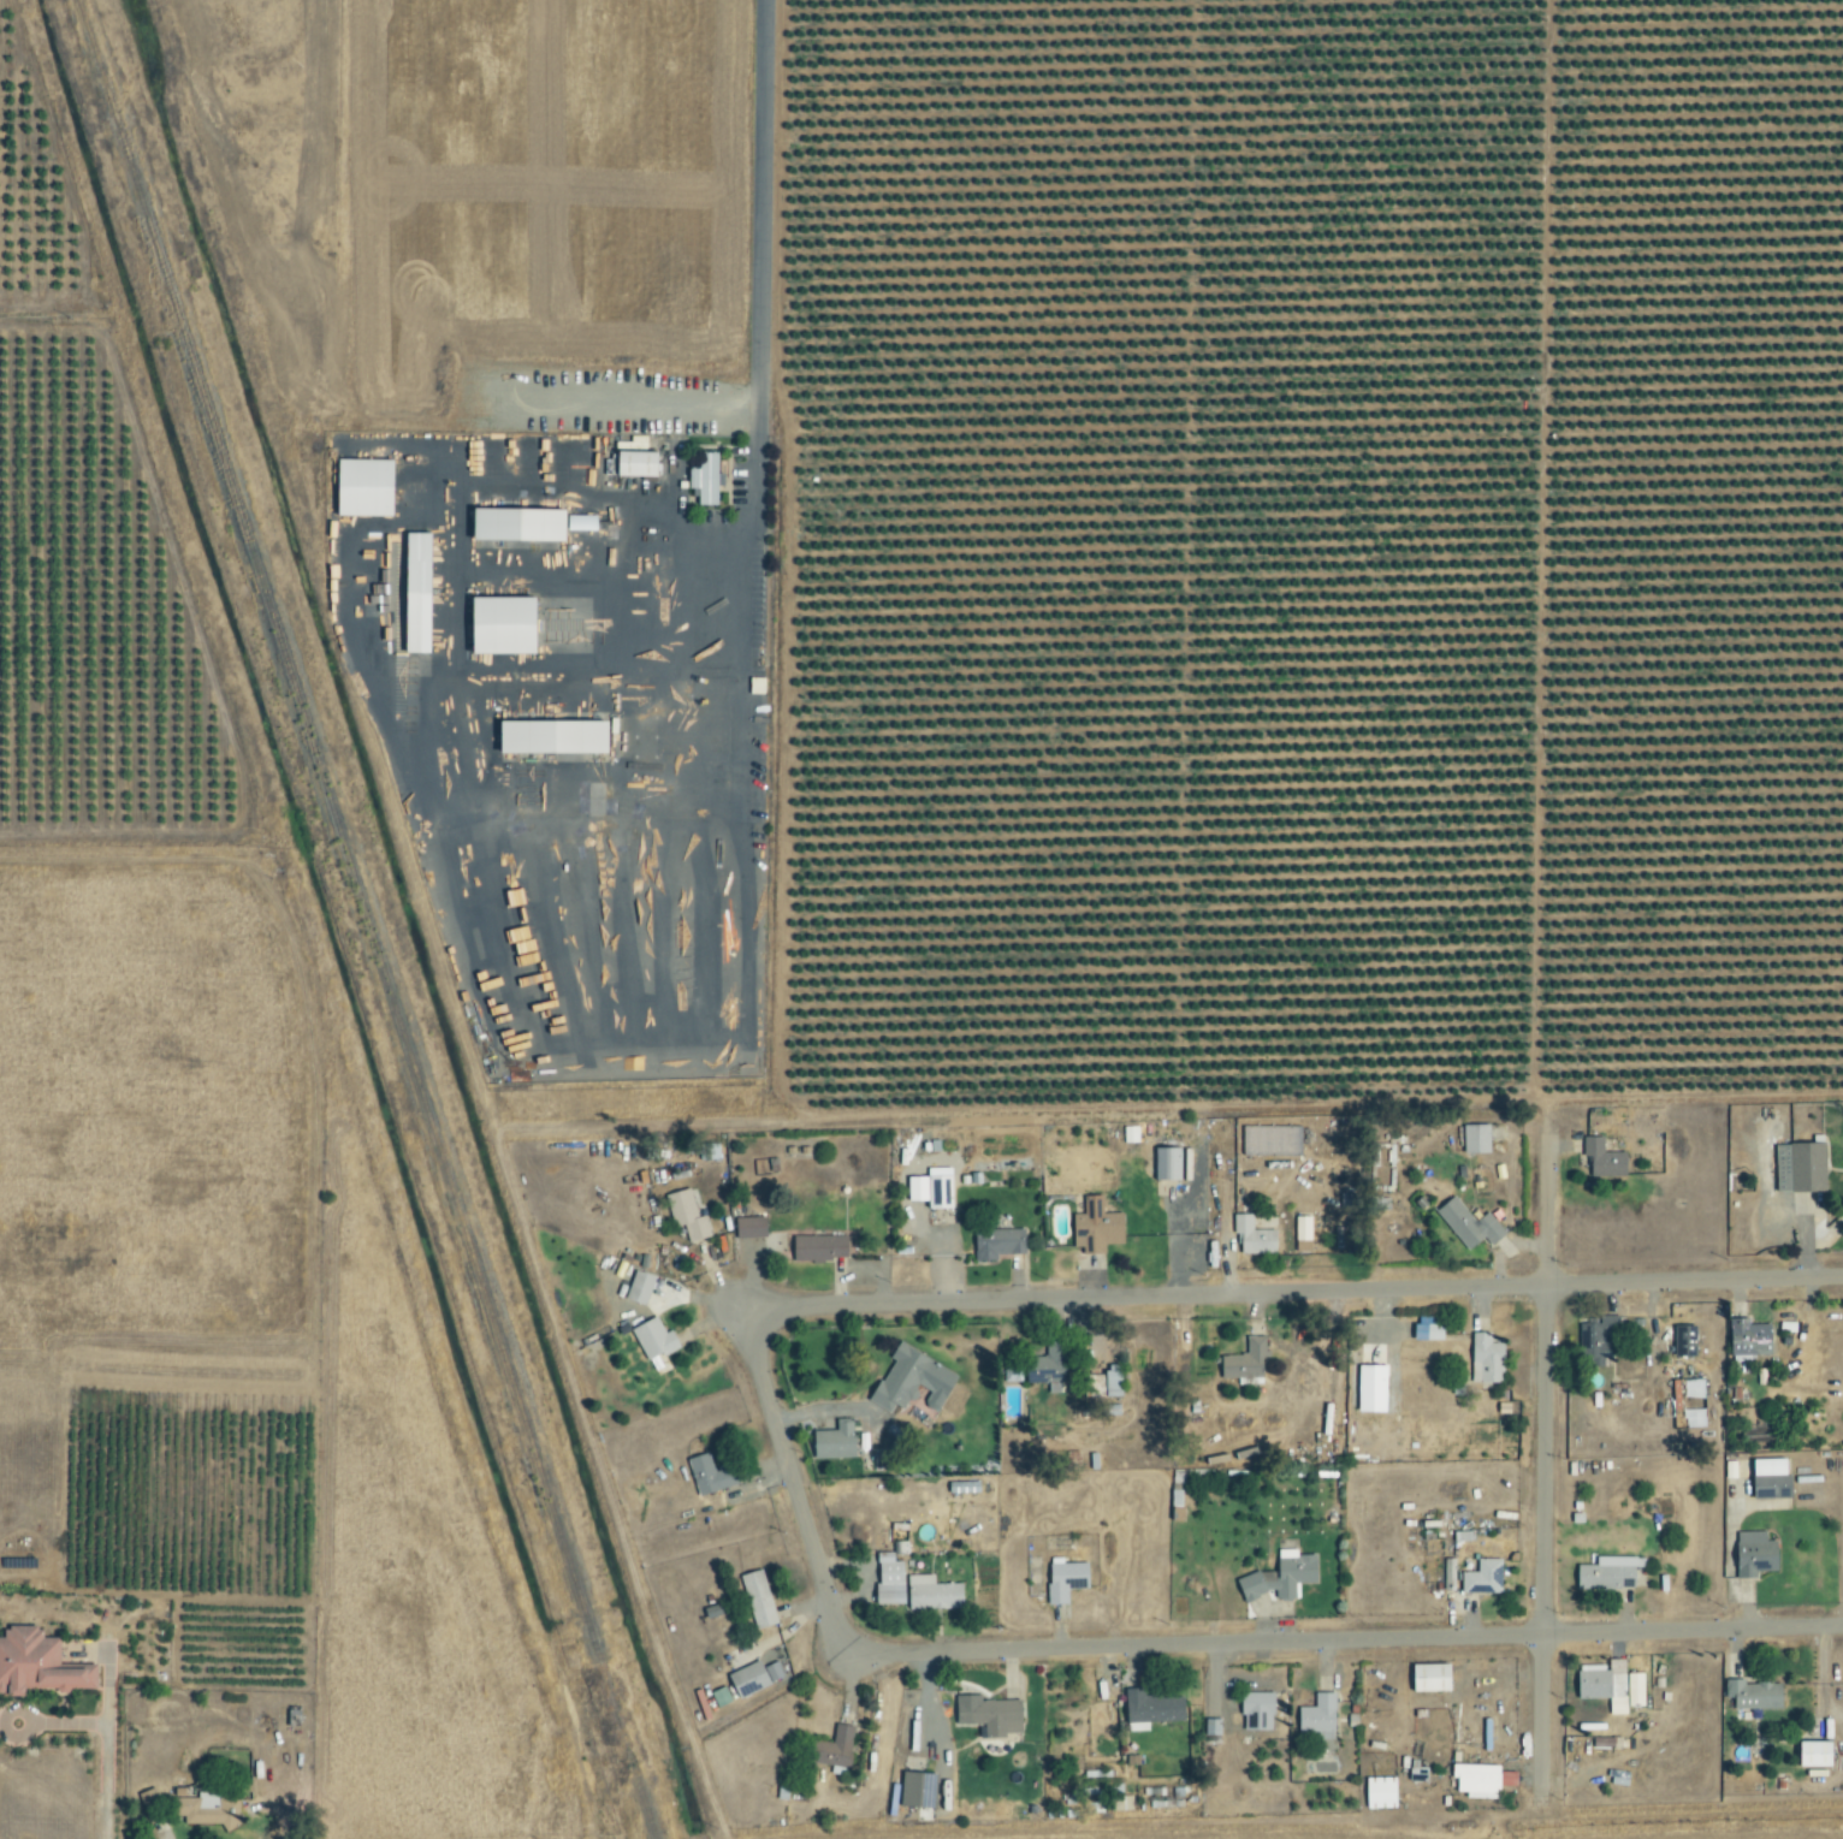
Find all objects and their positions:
road: (759, 233)
building: (633, 464)
building: (361, 488)
building: (579, 522)
building: (514, 526)
building: (413, 593)
building: (498, 627)
building: (549, 738)
railway: (365, 919)
building: (1474, 1138)
building: (1269, 1140)
building: (707, 1151)
building: (1600, 1158)
building: (1165, 1163)
building: (1797, 1167)
building: (929, 1190)
building: (685, 1215)
building: (1465, 1222)
building: (1094, 1227)
building: (1300, 1228)
building: (1251, 1236)
building: (995, 1244)
road: (1812, 1244)
building: (817, 1247)
building: (638, 1287)
road: (1290, 1293)
building: (1426, 1331)
building: (652, 1339)
building: (1682, 1340)
building: (1747, 1340)
building: (1594, 1341)
building: (1485, 1359)
building: (1243, 1363)
building: (1045, 1369)
building: (1011, 1371)
building: (908, 1380)
building: (1101, 1386)
building: (1369, 1388)
building: (1755, 1435)
building: (831, 1441)
building: (1226, 1453)
road: (1543, 1469)
building: (707, 1475)
building: (1768, 1479)
road: (790, 1482)
building: (1753, 1554)
building: (1606, 1573)
building: (1447, 1574)
building: (1279, 1577)
building: (1481, 1577)
building: (888, 1579)
building: (1063, 1580)
building: (930, 1594)
building: (757, 1598)
road: (1345, 1641)
building: (35, 1665)
building: (751, 1678)
building: (1428, 1678)
building: (1602, 1684)
building: (1634, 1690)
building: (1752, 1695)
building: (719, 1697)
building: (1148, 1709)
building: (1255, 1710)
building: (986, 1715)
building: (1317, 1716)
road: (107, 1738)
building: (831, 1748)
building: (1812, 1754)
building: (1478, 1778)
building: (1617, 1778)
building: (1100, 1784)
building: (915, 1790)
building: (1377, 1793)
building: (1120, 1803)
building: (149, 1804)
building: (206, 1808)

